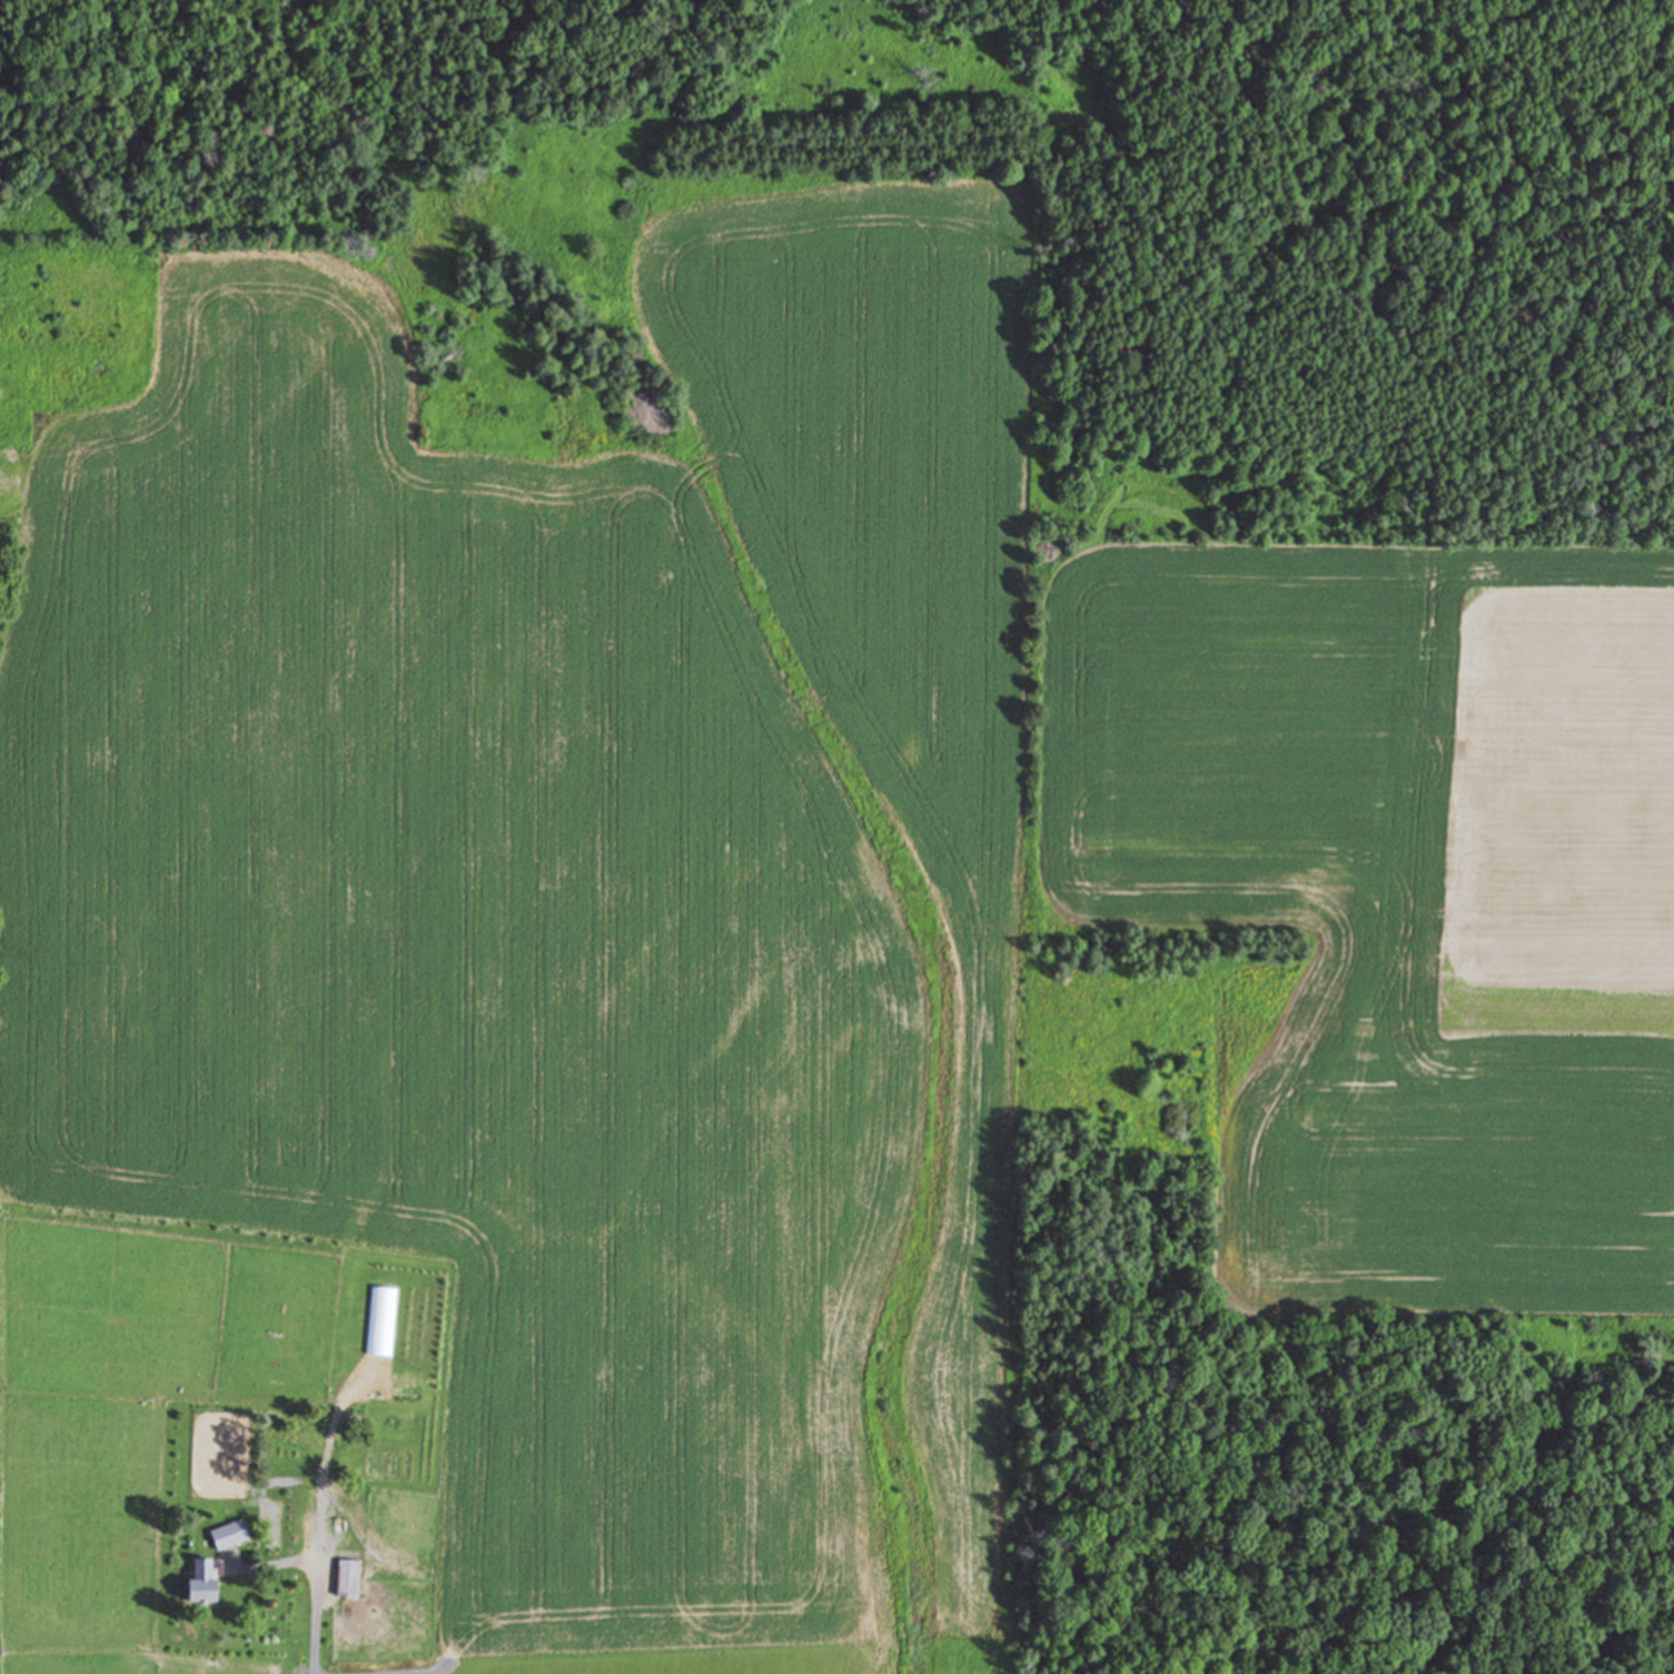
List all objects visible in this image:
building: (226, 1536)
building: (198, 1584)

